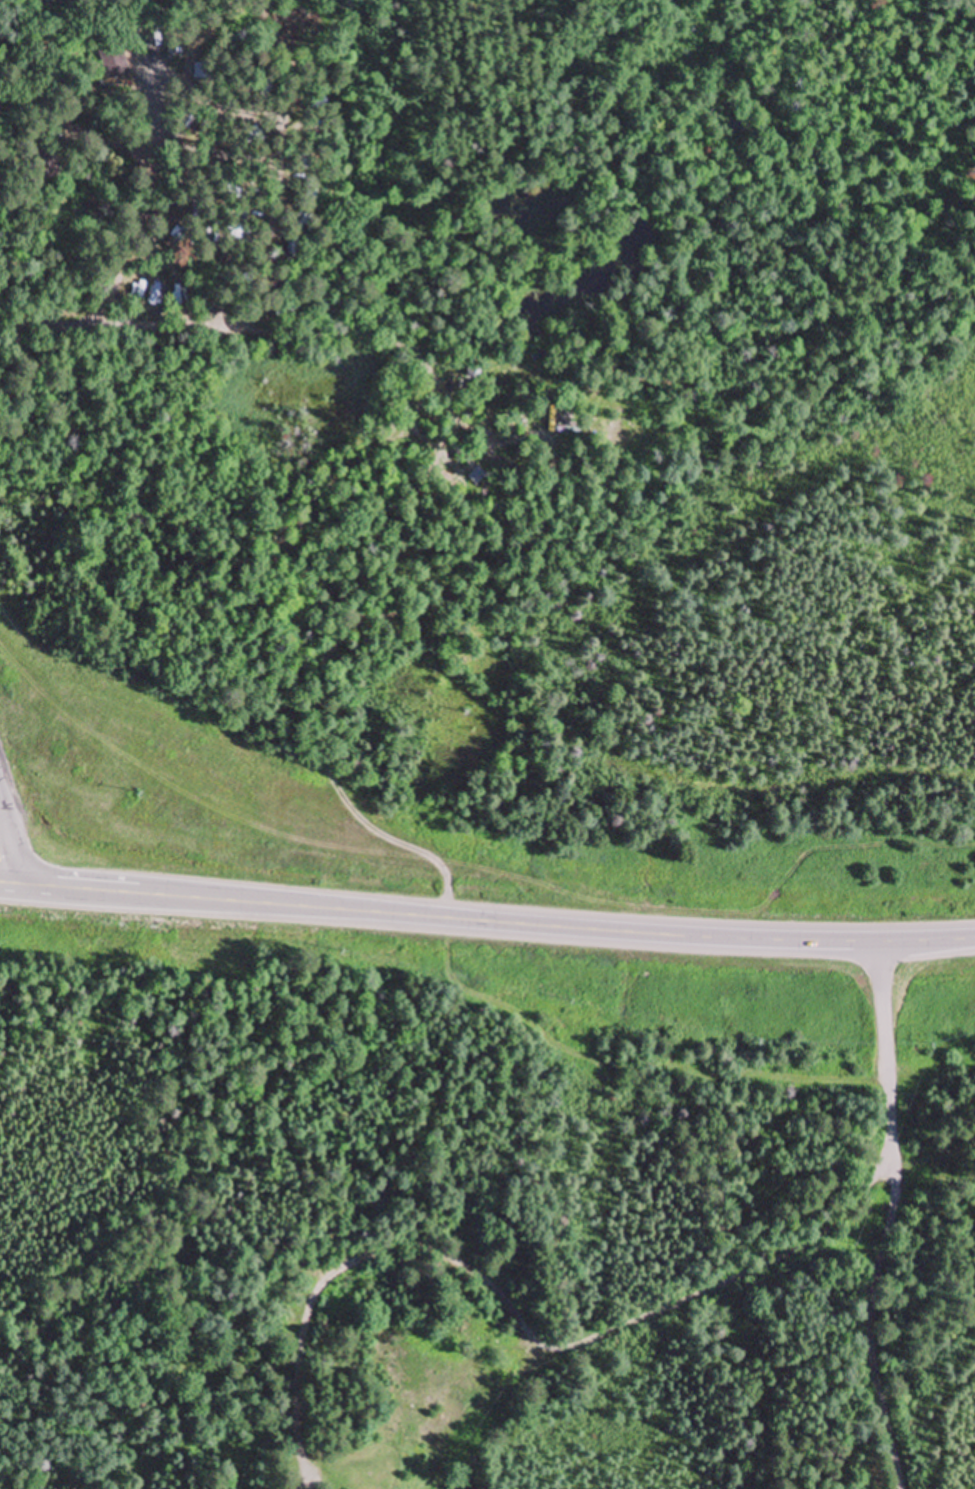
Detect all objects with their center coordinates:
road: (128, 26)
building: (113, 56)
road: (169, 329)
road: (8, 842)
road: (8, 883)
road: (495, 919)
road: (890, 1218)
road: (528, 1331)
building: (470, 1377)

